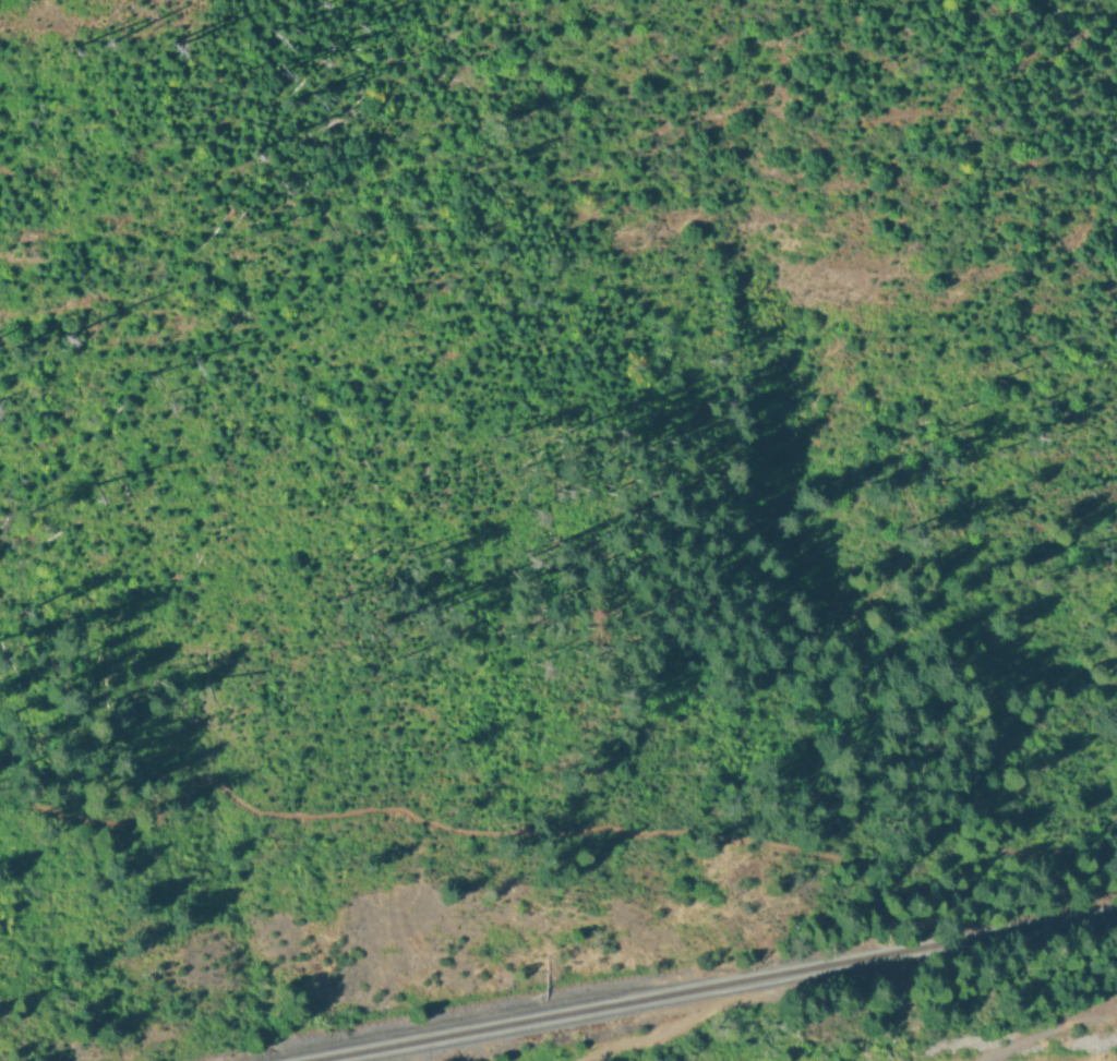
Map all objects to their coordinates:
road: (554, 833)
railway: (707, 982)

